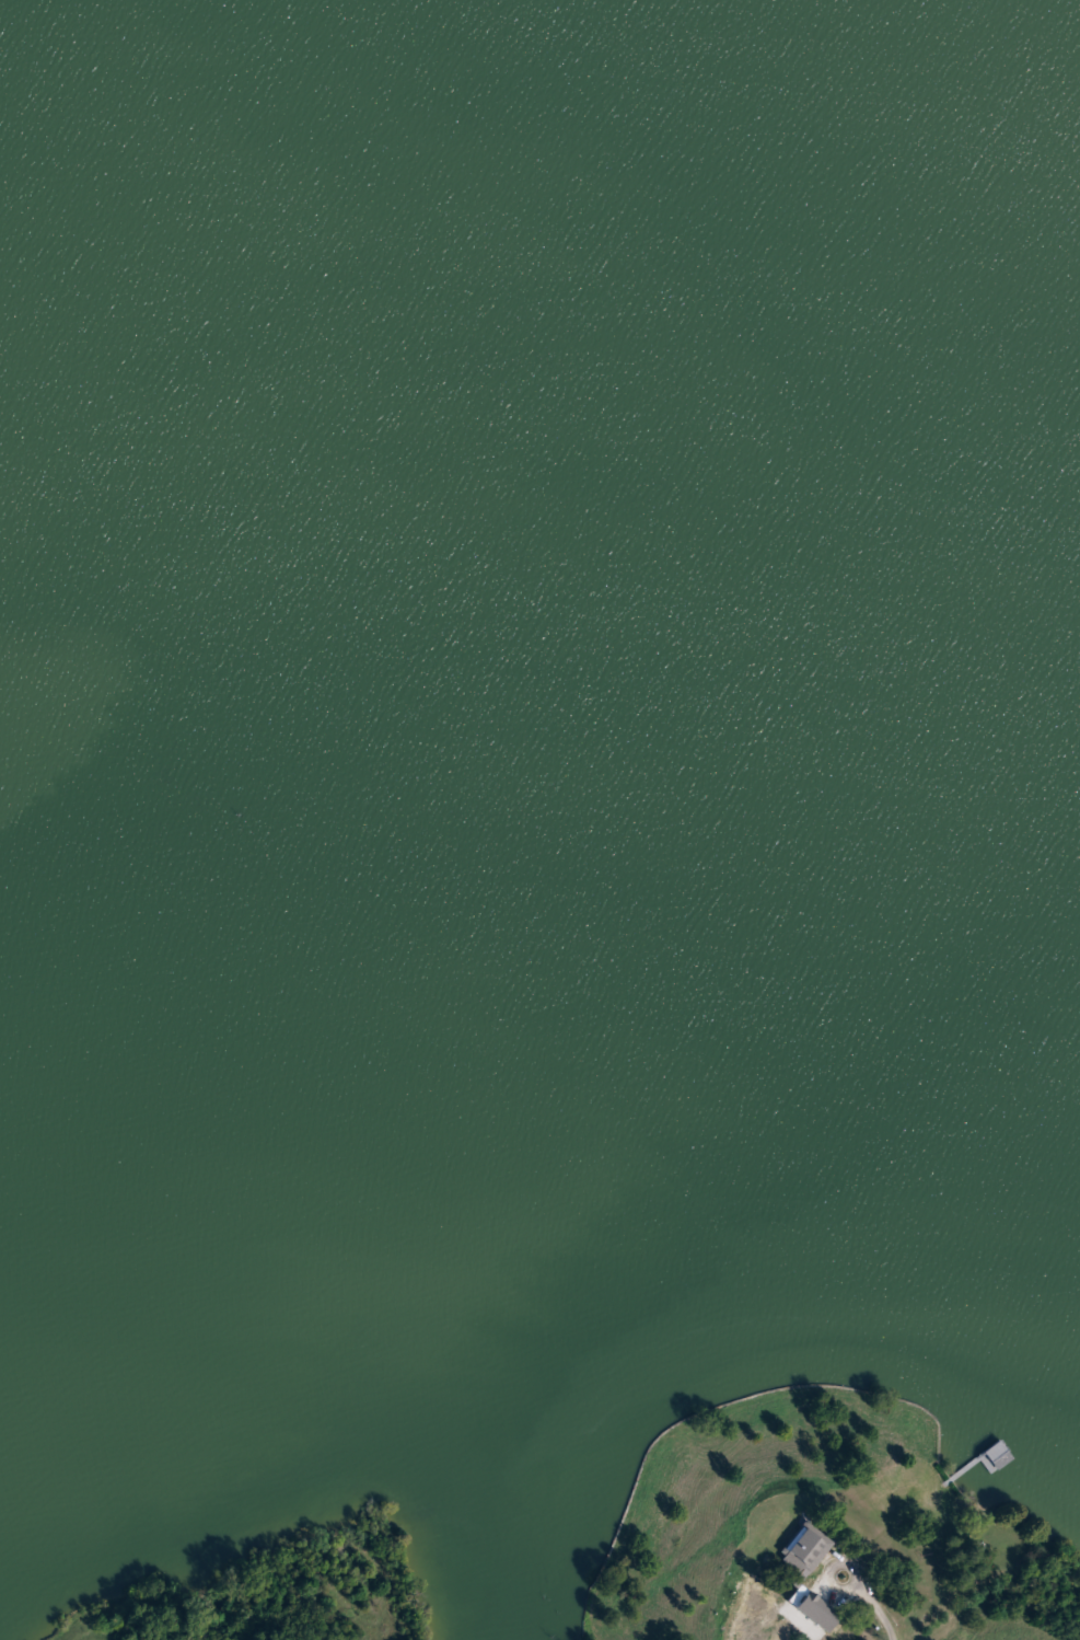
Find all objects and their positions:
building: (808, 1547)
road: (872, 1603)

